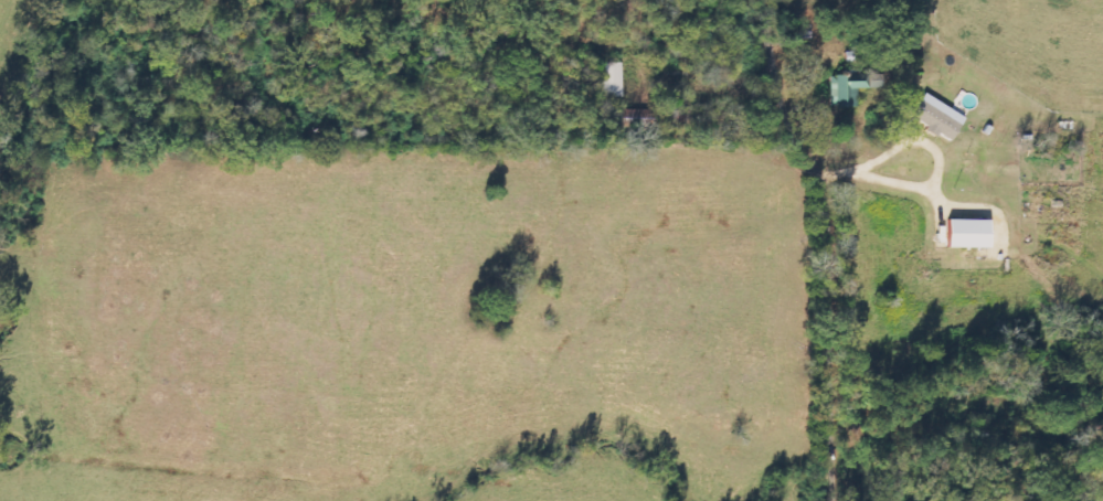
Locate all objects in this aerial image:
building: (612, 79)
building: (850, 88)
building: (935, 117)
building: (965, 234)
road: (839, 245)

